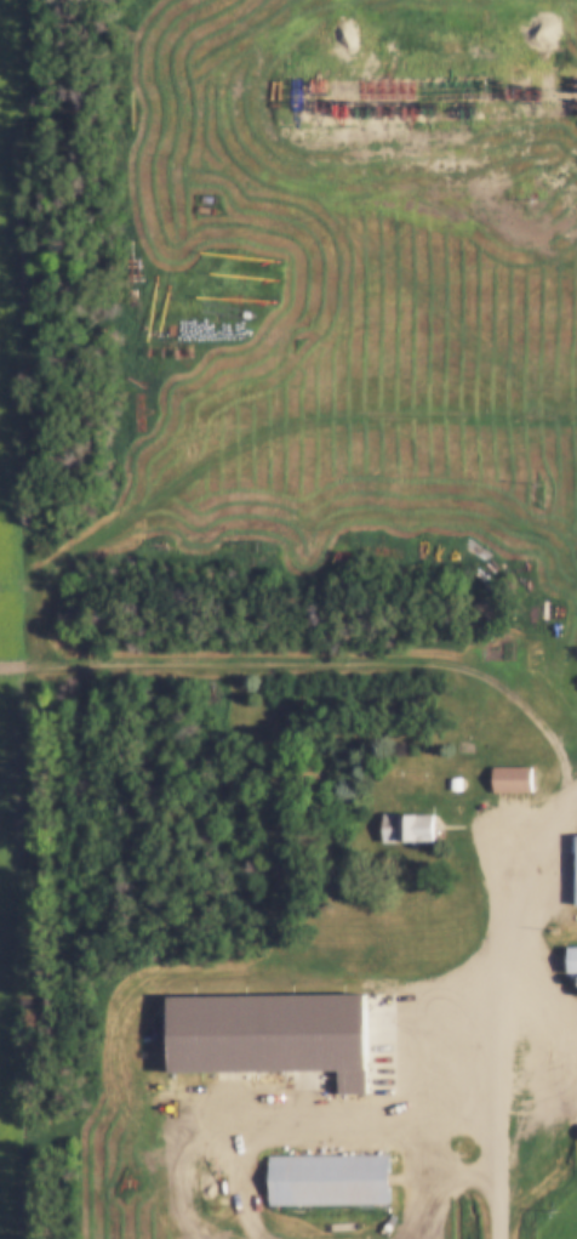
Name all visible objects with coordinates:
building: (211, 81)
building: (435, 92)
road: (329, 659)
building: (165, 693)
building: (512, 772)
building: (405, 820)
building: (576, 862)
building: (571, 950)
building: (576, 973)
silo: (576, 973)
road: (504, 1014)
building: (208, 1051)
building: (329, 1175)

